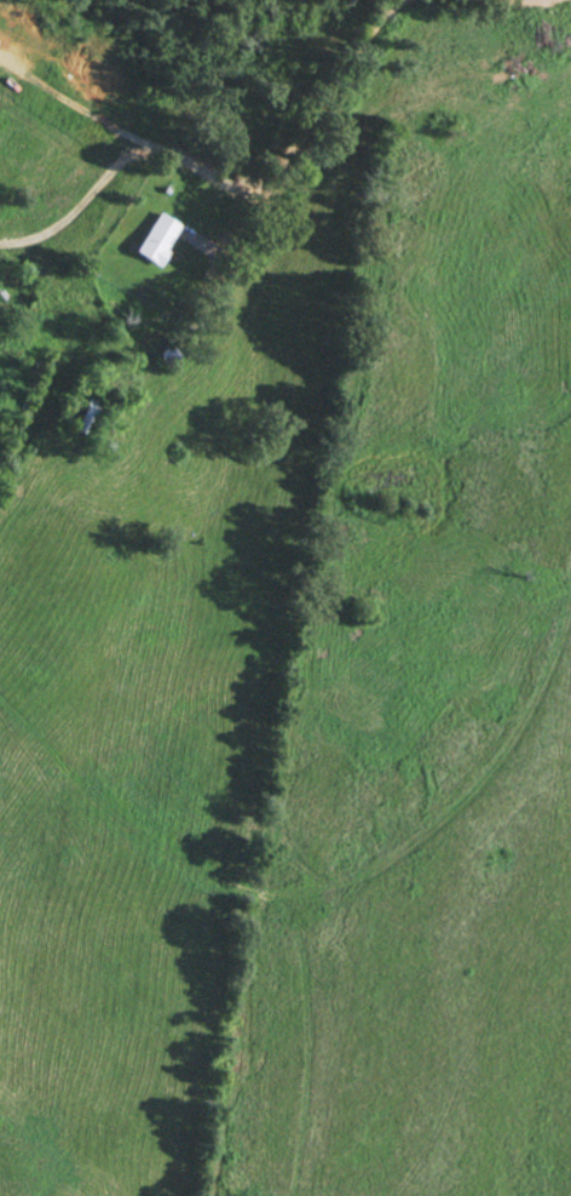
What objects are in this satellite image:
road: (301, 139)
building: (83, 417)

